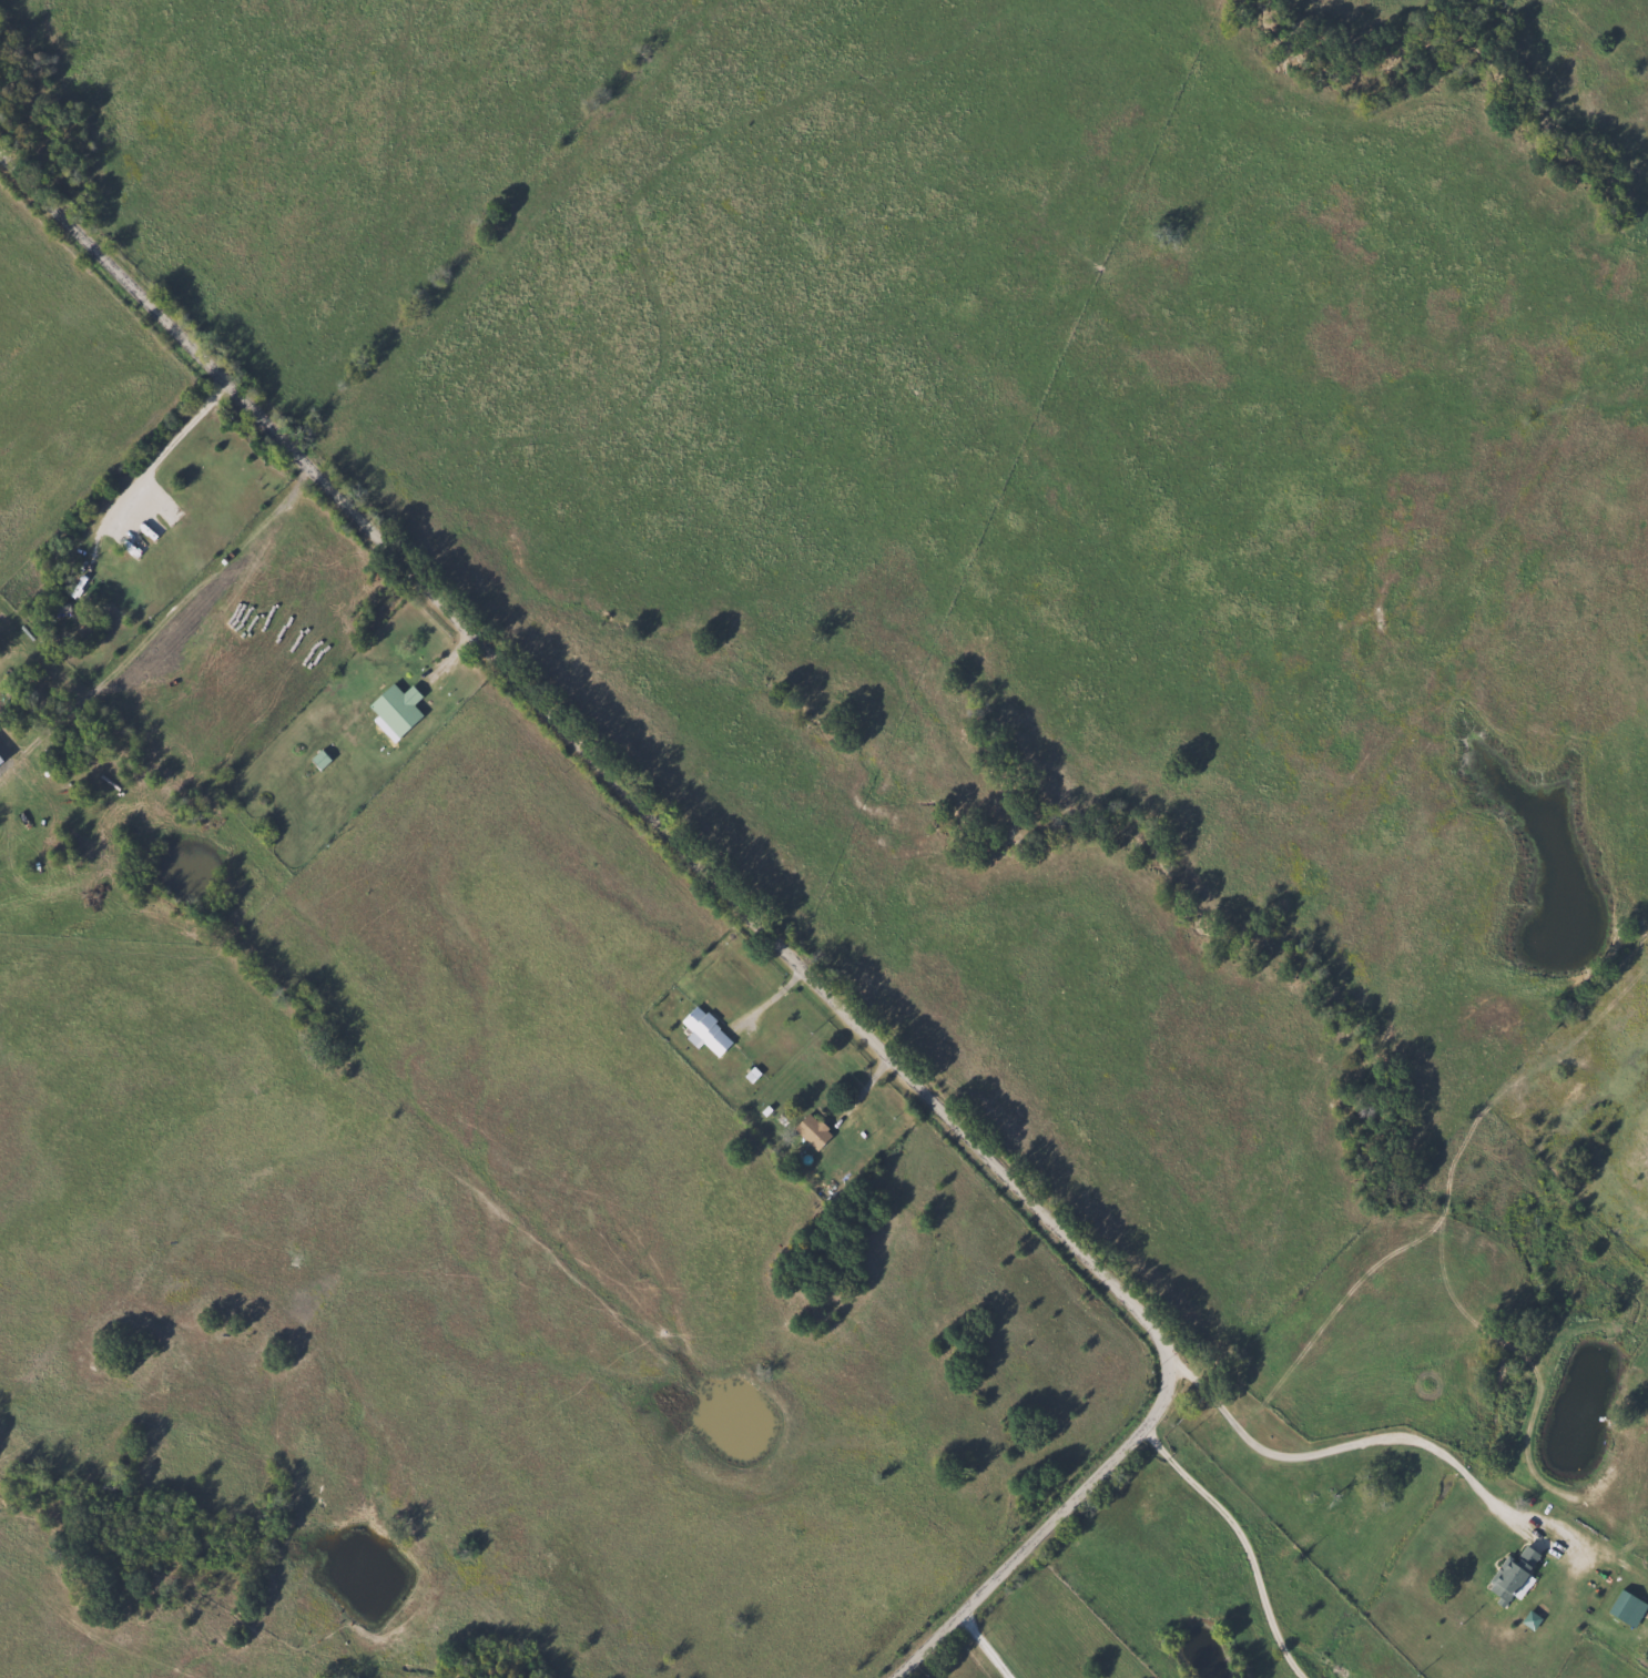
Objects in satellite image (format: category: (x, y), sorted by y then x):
road: (162, 452)
road: (202, 587)
building: (395, 709)
building: (317, 759)
road: (740, 904)
road: (772, 997)
building: (703, 1030)
road: (863, 1091)
building: (810, 1130)
road: (1339, 1448)
road: (1238, 1539)
building: (1510, 1575)
road: (981, 1645)

